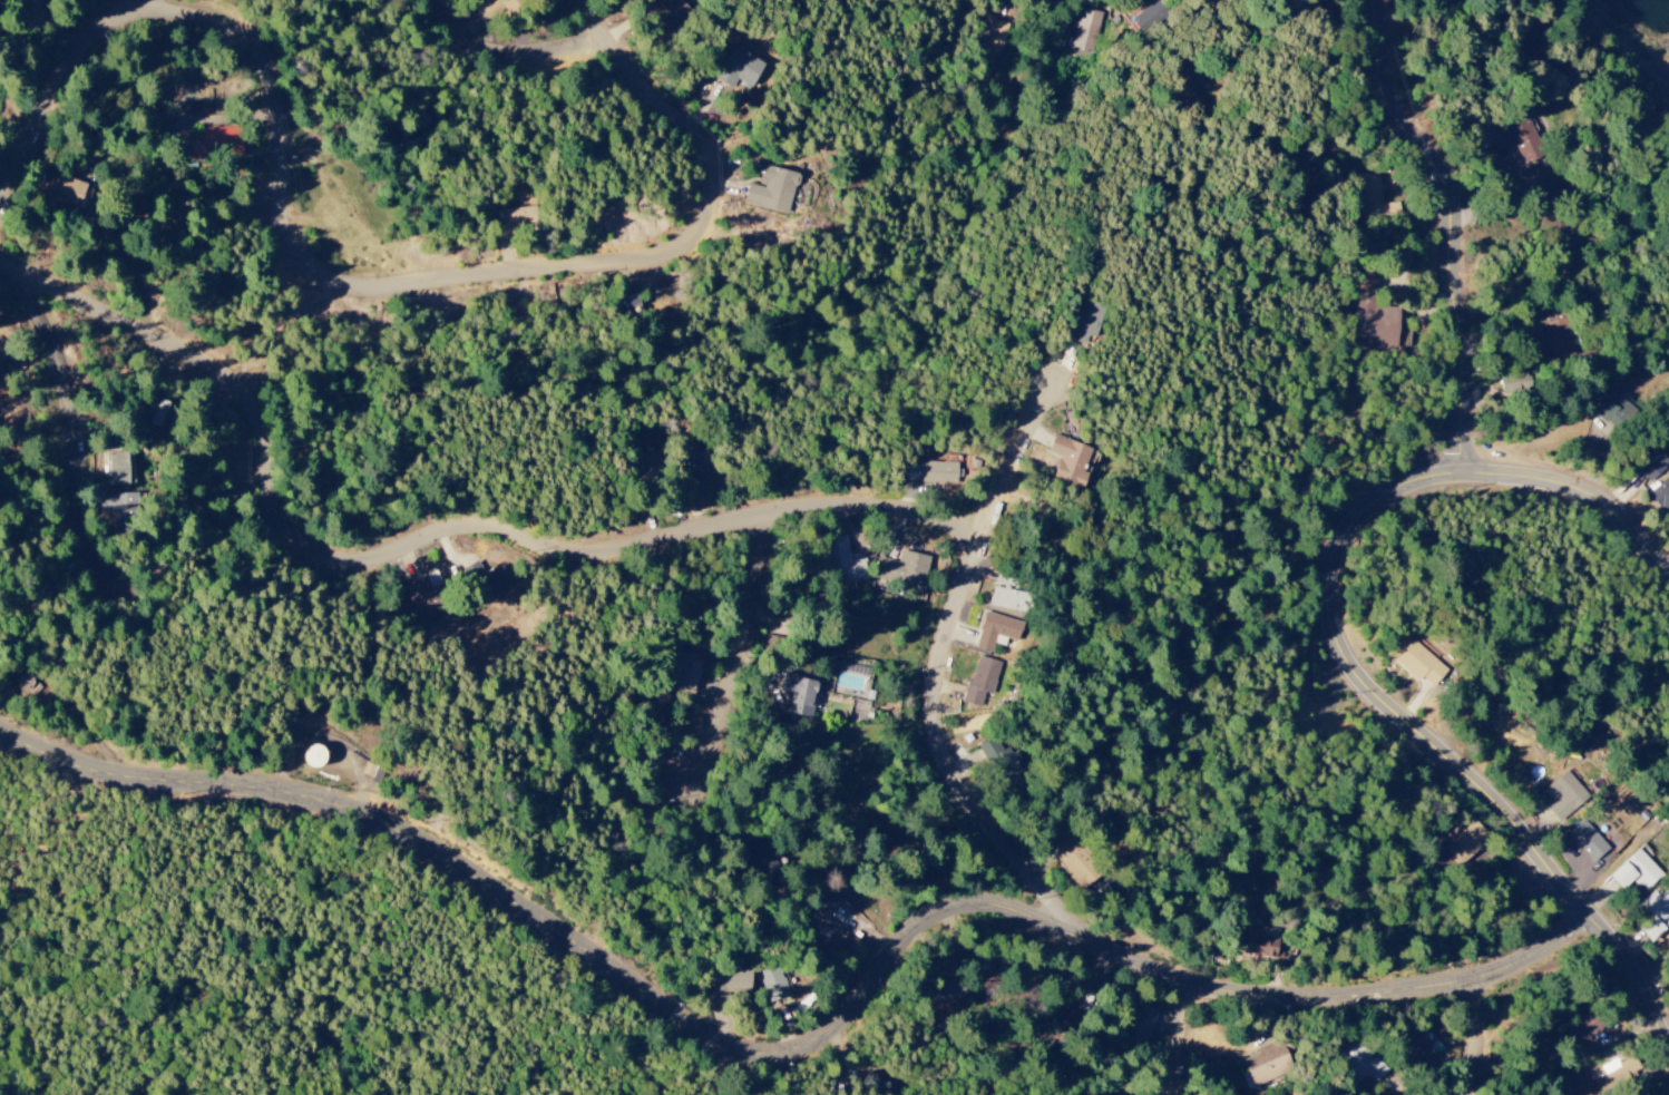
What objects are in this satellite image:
road: (144, 6)
building: (670, 17)
building: (1145, 18)
building: (1085, 29)
building: (993, 38)
road: (510, 56)
building: (738, 68)
building: (1525, 141)
building: (213, 144)
building: (1300, 159)
building: (62, 188)
building: (772, 190)
building: (1368, 193)
building: (514, 218)
road: (1460, 226)
road: (343, 282)
building: (627, 305)
building: (1373, 317)
building: (1085, 321)
park: (1638, 322)
building: (1558, 338)
building: (1515, 383)
road: (1042, 410)
building: (1613, 411)
road: (78, 422)
building: (1071, 461)
building: (1652, 466)
building: (116, 468)
building: (694, 468)
building: (650, 469)
building: (929, 472)
building: (1661, 495)
building: (116, 507)
road: (426, 539)
building: (842, 563)
building: (901, 569)
building: (487, 579)
building: (424, 599)
building: (1006, 599)
building: (996, 632)
road: (757, 654)
road: (1347, 655)
building: (1421, 664)
building: (682, 668)
building: (980, 680)
building: (798, 695)
road: (935, 706)
building: (313, 756)
building: (1004, 770)
building: (1562, 796)
building: (1588, 841)
building: (1464, 842)
building: (762, 860)
building: (1636, 872)
building: (823, 905)
building: (1656, 916)
building: (820, 939)
building: (1261, 942)
building: (729, 981)
building: (771, 981)
building: (947, 991)
building: (1141, 1023)
building: (1581, 1028)
road: (1490, 1035)
road: (1182, 1038)
building: (1411, 1042)
road: (803, 1050)
building: (1359, 1063)
building: (1267, 1064)
building: (1622, 1070)
building: (873, 1084)
building: (1114, 1092)

